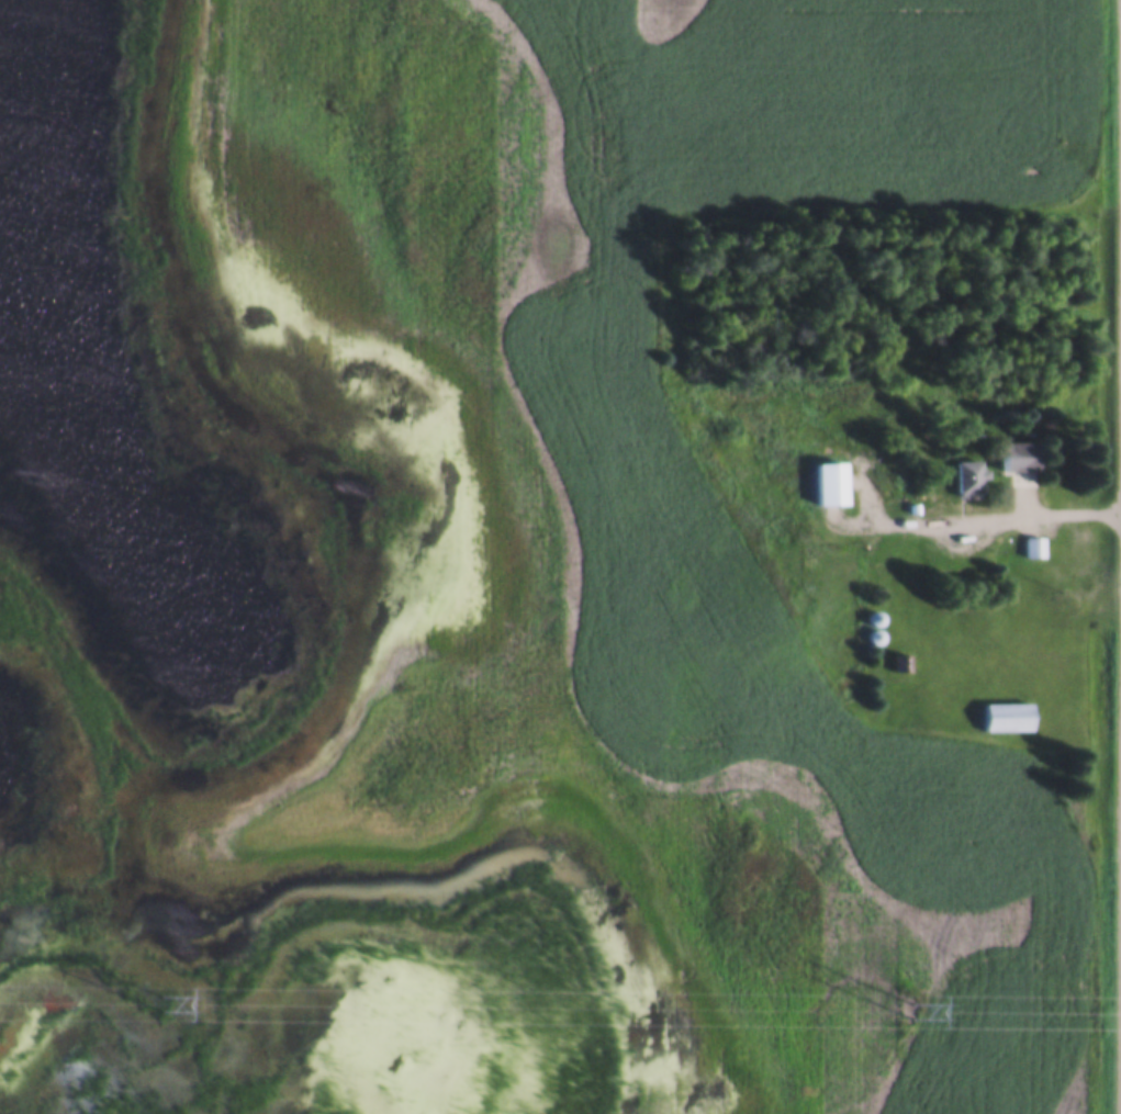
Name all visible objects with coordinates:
building: (1024, 459)
building: (972, 475)
building: (834, 482)
road: (1020, 519)
building: (1034, 545)
building: (876, 618)
building: (876, 637)
building: (901, 663)
building: (1007, 717)
power tower: (165, 1004)
power tower: (913, 1010)

